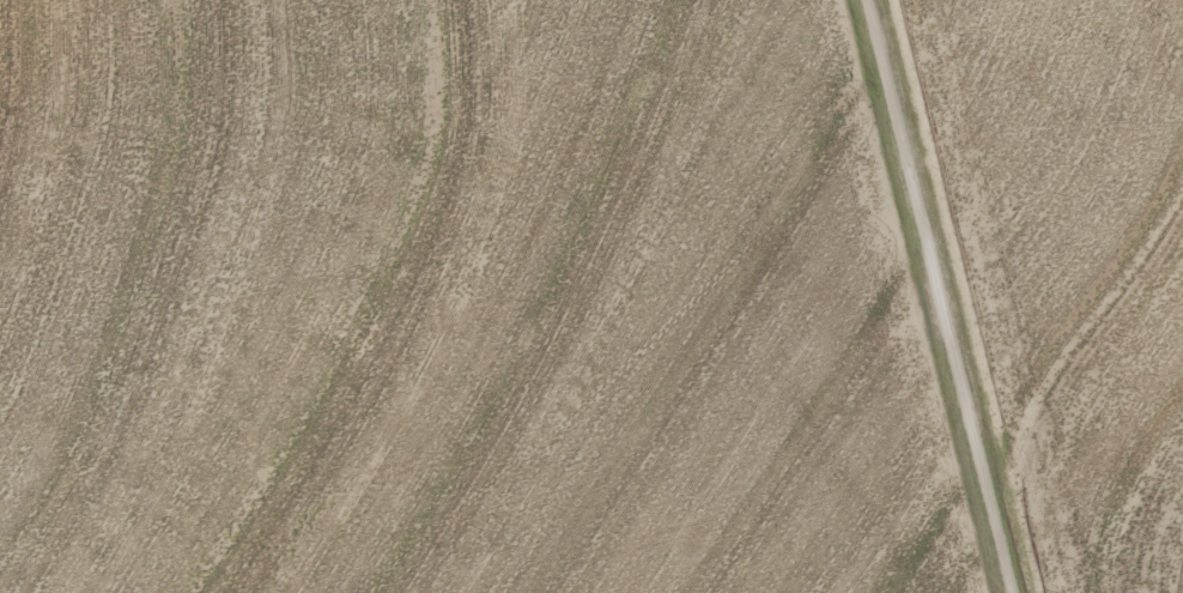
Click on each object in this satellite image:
road: (942, 296)

